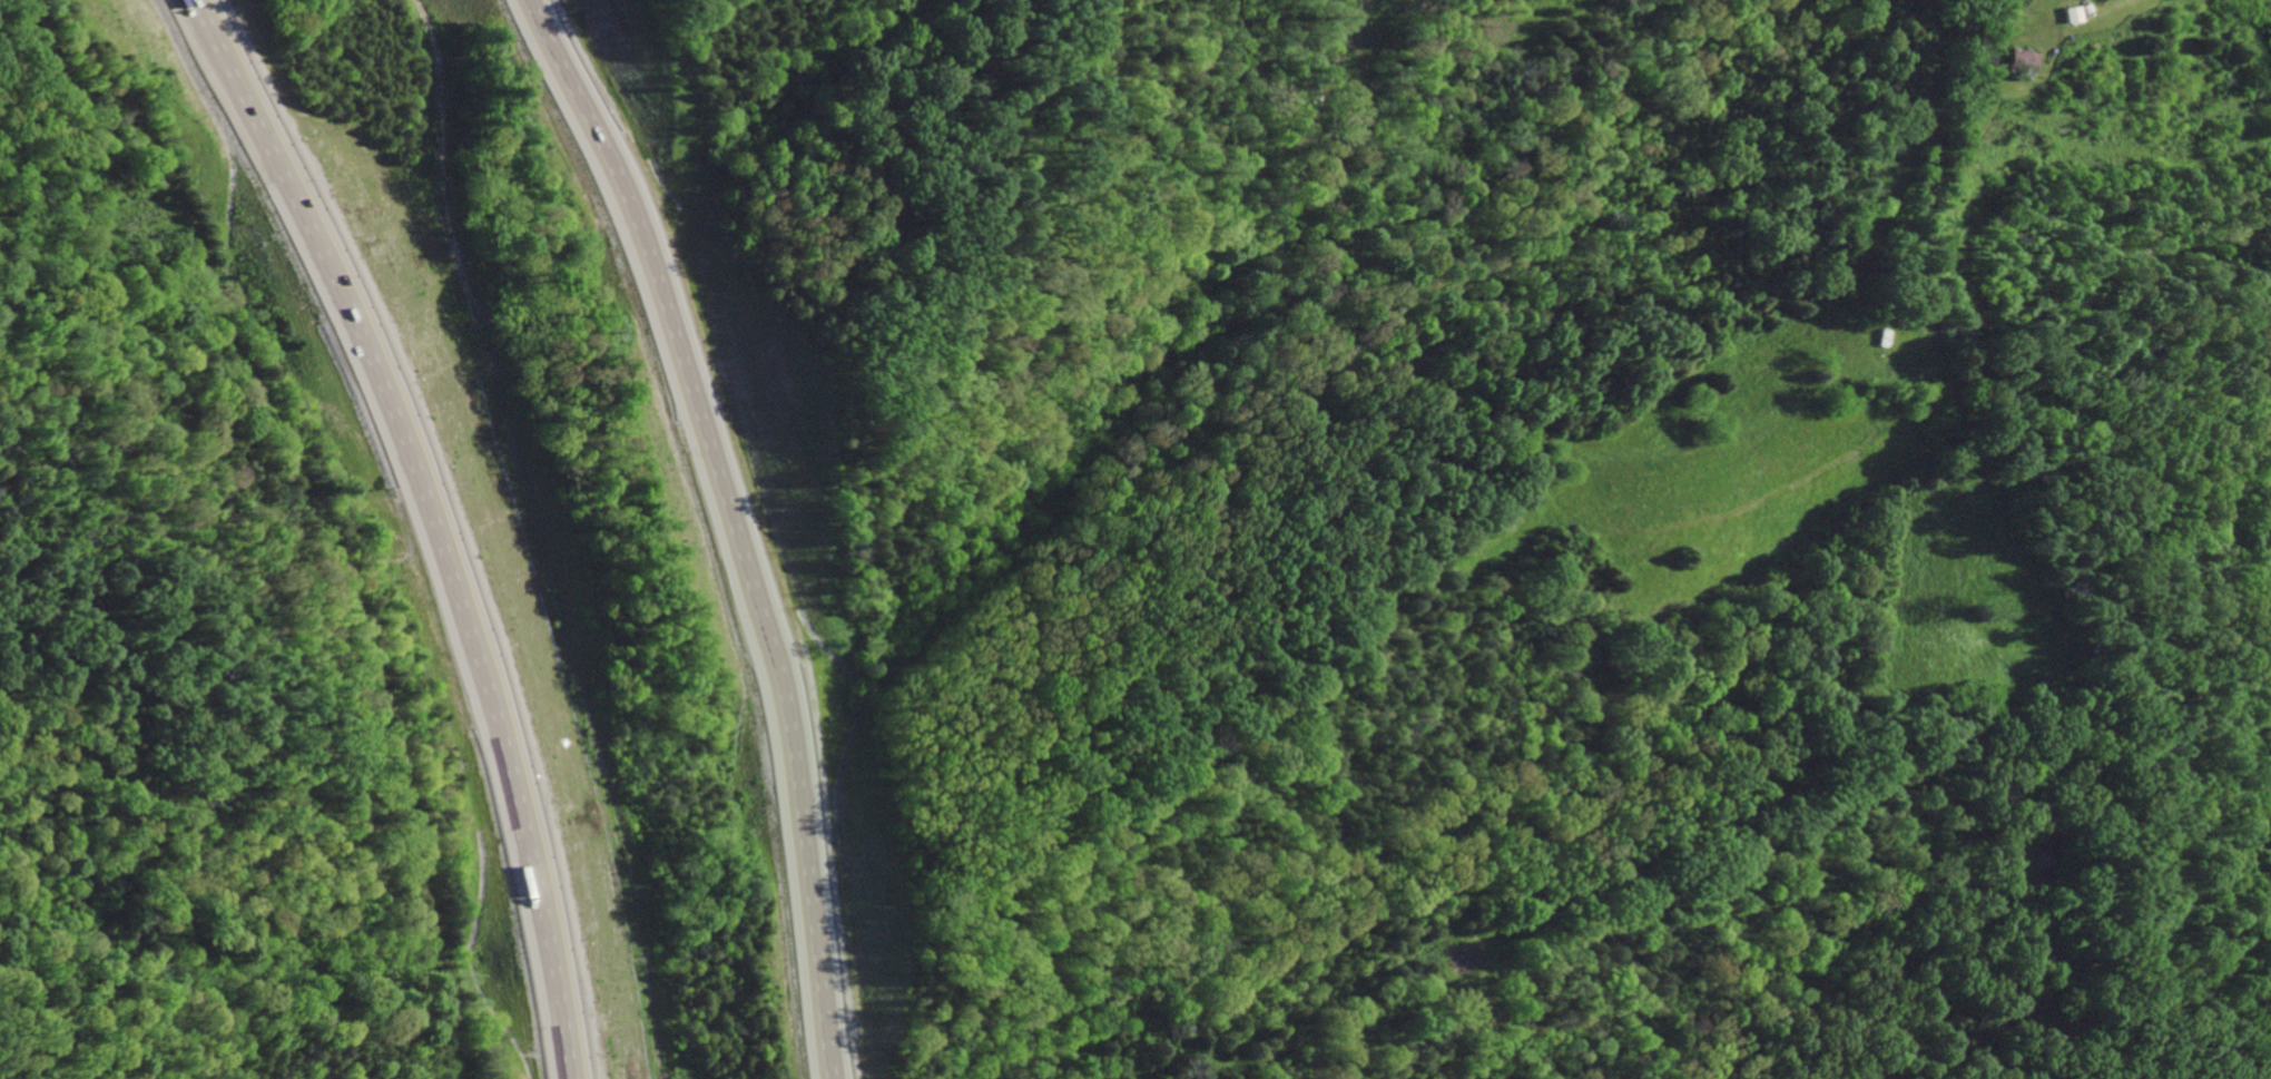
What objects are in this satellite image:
building: (2015, 58)
road: (425, 519)
road: (738, 524)

